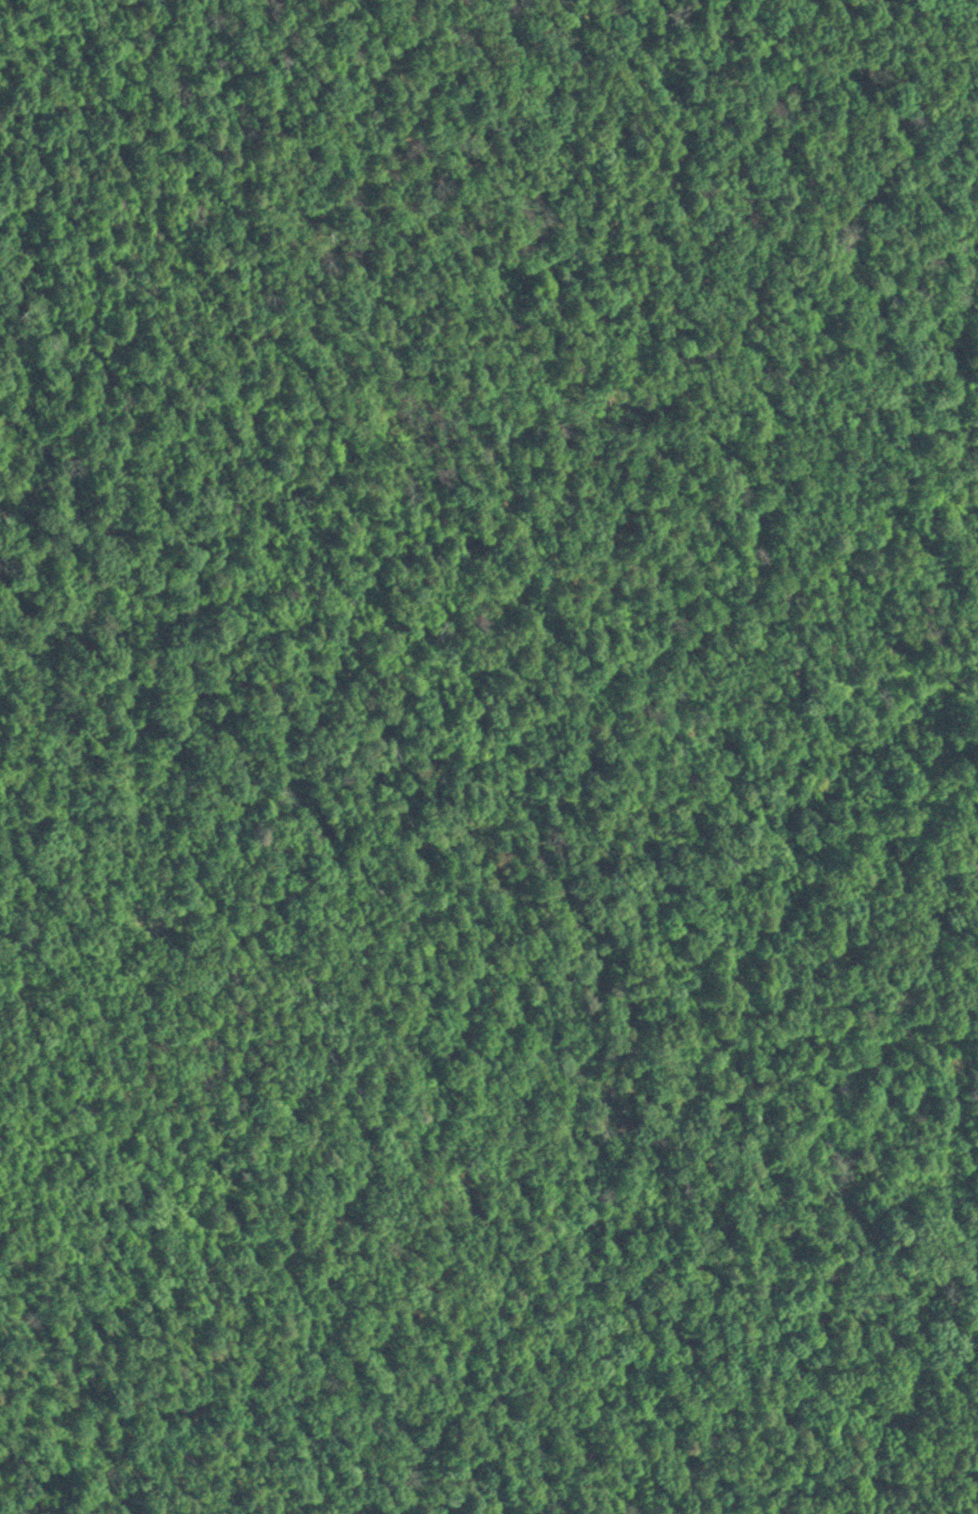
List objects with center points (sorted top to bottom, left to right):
road: (349, 1389)

